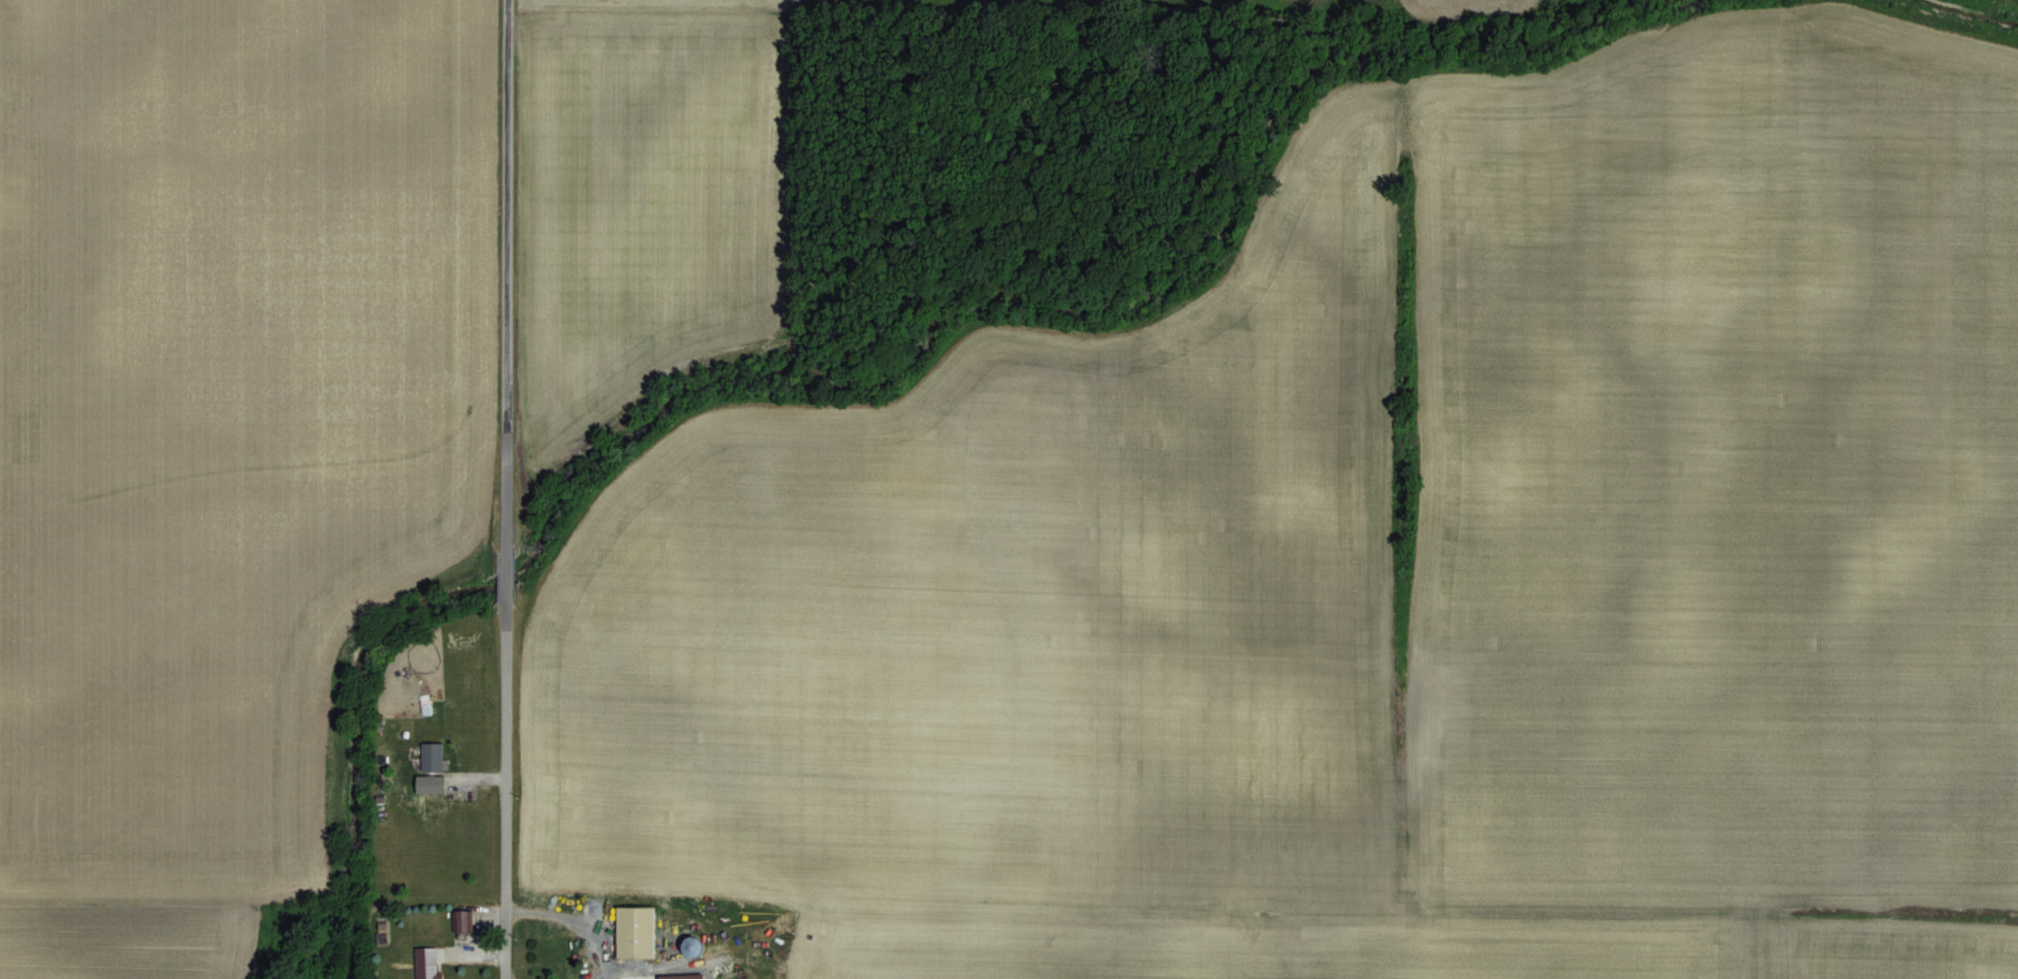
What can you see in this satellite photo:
road: (500, 489)
road: (578, 915)

